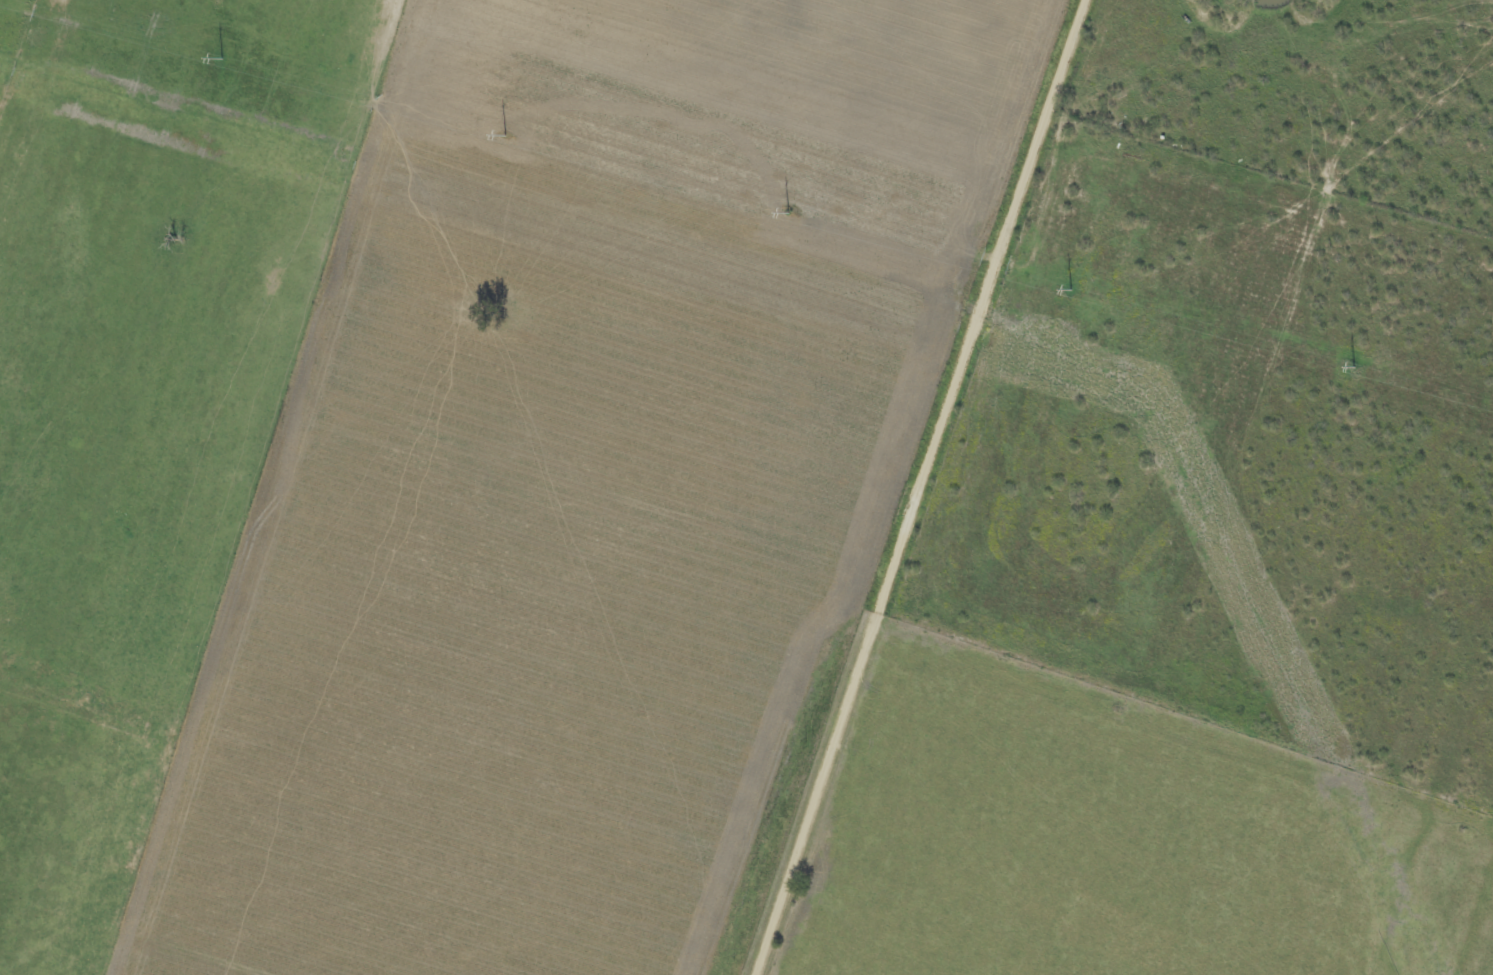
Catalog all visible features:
power tower: (224, 59)
power tower: (503, 137)
power tower: (787, 214)
power tower: (1070, 291)
power tower: (1354, 368)
road: (935, 487)

